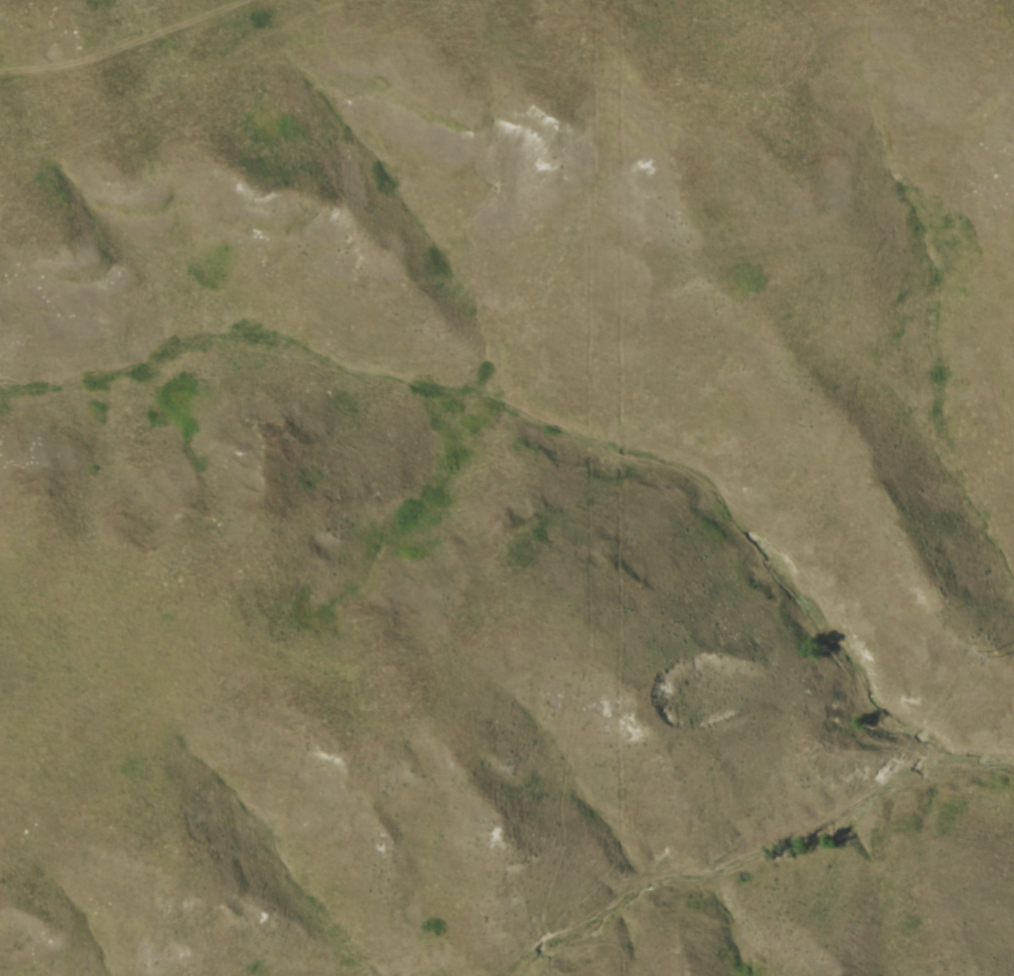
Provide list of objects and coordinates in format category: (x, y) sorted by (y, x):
power tower: (1001, 652)

